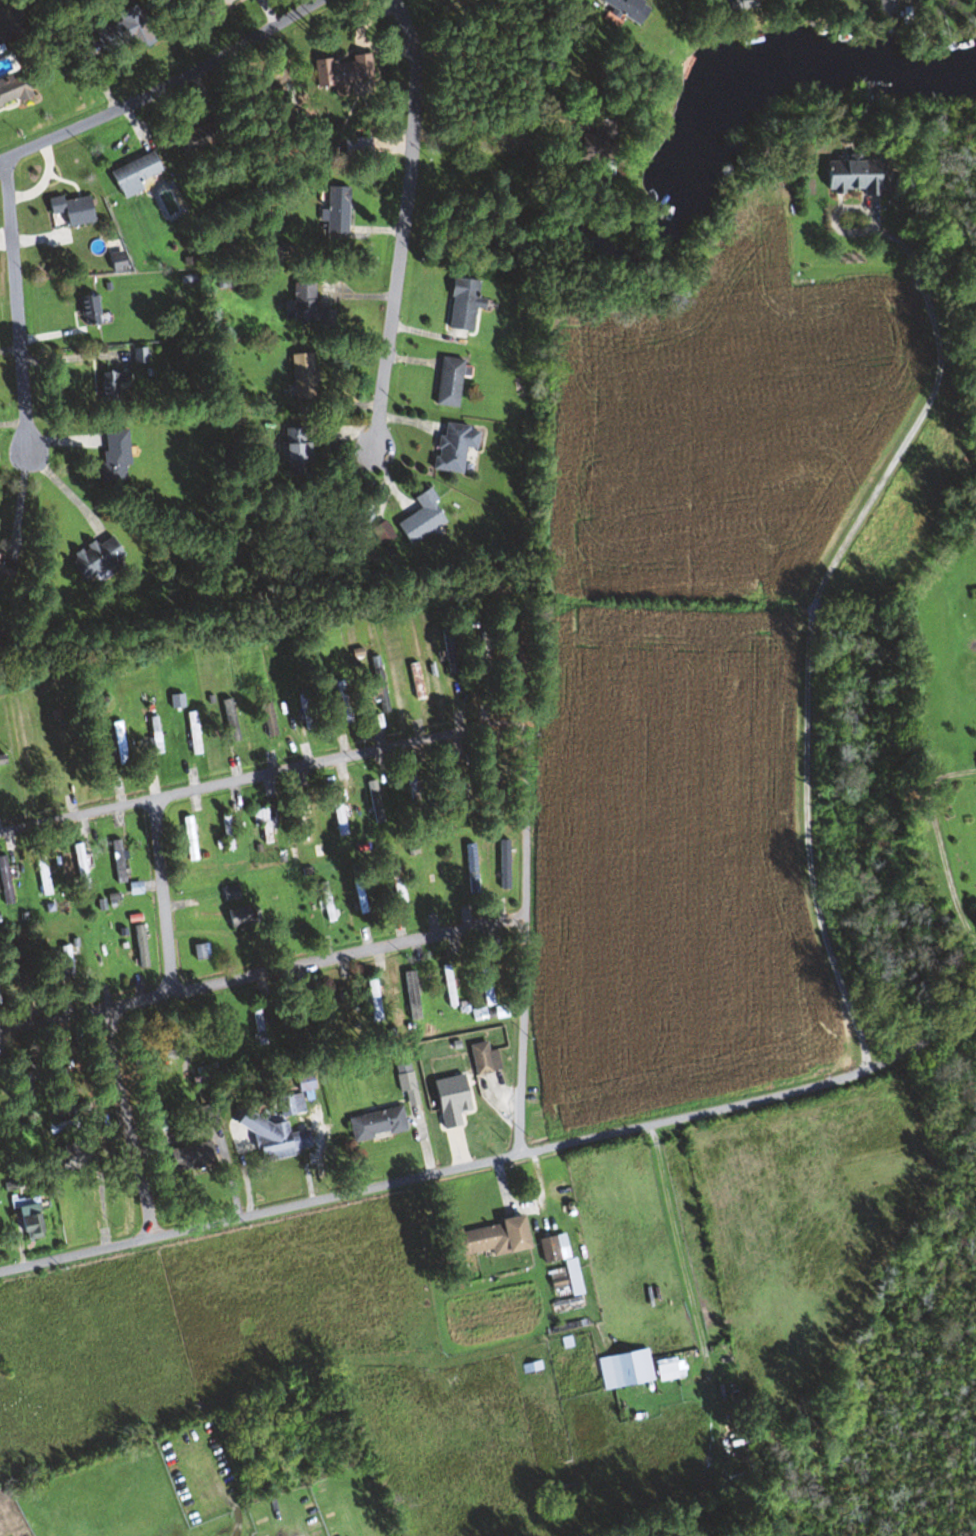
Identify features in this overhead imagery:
building: (212, 3)
building: (734, 4)
building: (623, 8)
building: (133, 28)
building: (100, 44)
building: (340, 73)
road: (163, 87)
building: (12, 89)
building: (192, 139)
building: (594, 142)
building: (131, 174)
building: (849, 176)
building: (70, 209)
building: (335, 210)
road: (404, 226)
building: (281, 251)
building: (114, 262)
building: (461, 304)
road: (17, 305)
building: (307, 308)
building: (87, 309)
building: (138, 355)
building: (302, 376)
building: (447, 382)
building: (110, 385)
building: (451, 446)
building: (293, 451)
building: (112, 456)
building: (418, 518)
building: (380, 532)
building: (94, 557)
building: (6, 566)
road: (804, 635)
building: (450, 650)
building: (414, 681)
building: (376, 684)
building: (341, 701)
building: (266, 719)
building: (373, 722)
road: (476, 724)
building: (231, 727)
building: (192, 733)
building: (153, 735)
building: (117, 740)
building: (43, 752)
building: (2, 761)
building: (490, 784)
building: (445, 789)
building: (373, 801)
building: (336, 814)
building: (299, 820)
building: (225, 832)
building: (187, 838)
road: (936, 845)
building: (116, 862)
building: (503, 865)
building: (470, 867)
building: (40, 874)
building: (434, 879)
building: (4, 883)
building: (397, 887)
building: (133, 888)
building: (228, 894)
road: (163, 896)
building: (360, 896)
building: (236, 917)
building: (138, 949)
building: (199, 952)
building: (102, 955)
building: (64, 962)
road: (260, 974)
building: (488, 985)
building: (447, 986)
building: (410, 995)
building: (336, 1000)
building: (373, 1000)
building: (301, 1011)
building: (216, 1019)
building: (258, 1024)
building: (151, 1059)
building: (483, 1060)
building: (66, 1074)
building: (28, 1078)
building: (302, 1082)
building: (406, 1085)
building: (458, 1101)
building: (289, 1104)
building: (204, 1116)
road: (125, 1124)
building: (374, 1124)
building: (275, 1138)
building: (189, 1157)
building: (73, 1158)
road: (494, 1160)
building: (25, 1214)
building: (485, 1239)
building: (558, 1258)
building: (663, 1366)
building: (623, 1370)
building: (735, 1470)

